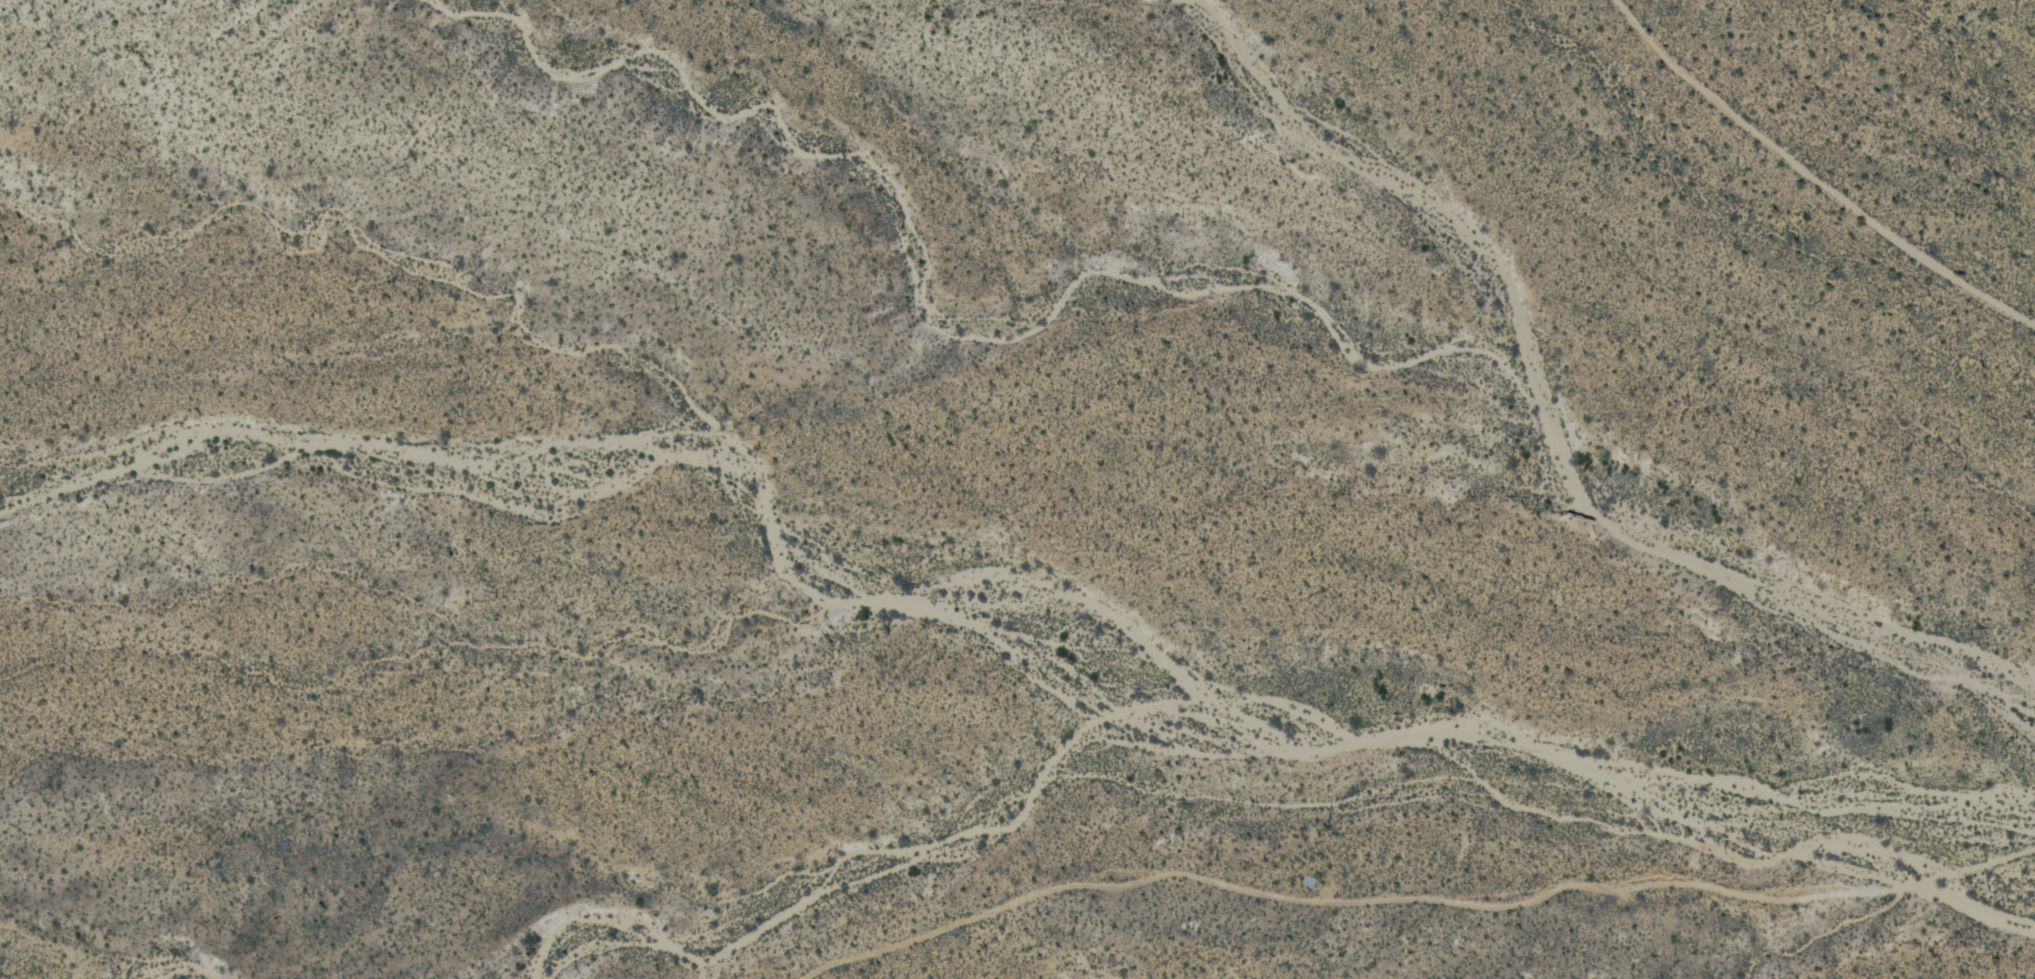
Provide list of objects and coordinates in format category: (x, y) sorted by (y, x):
road: (1804, 185)

